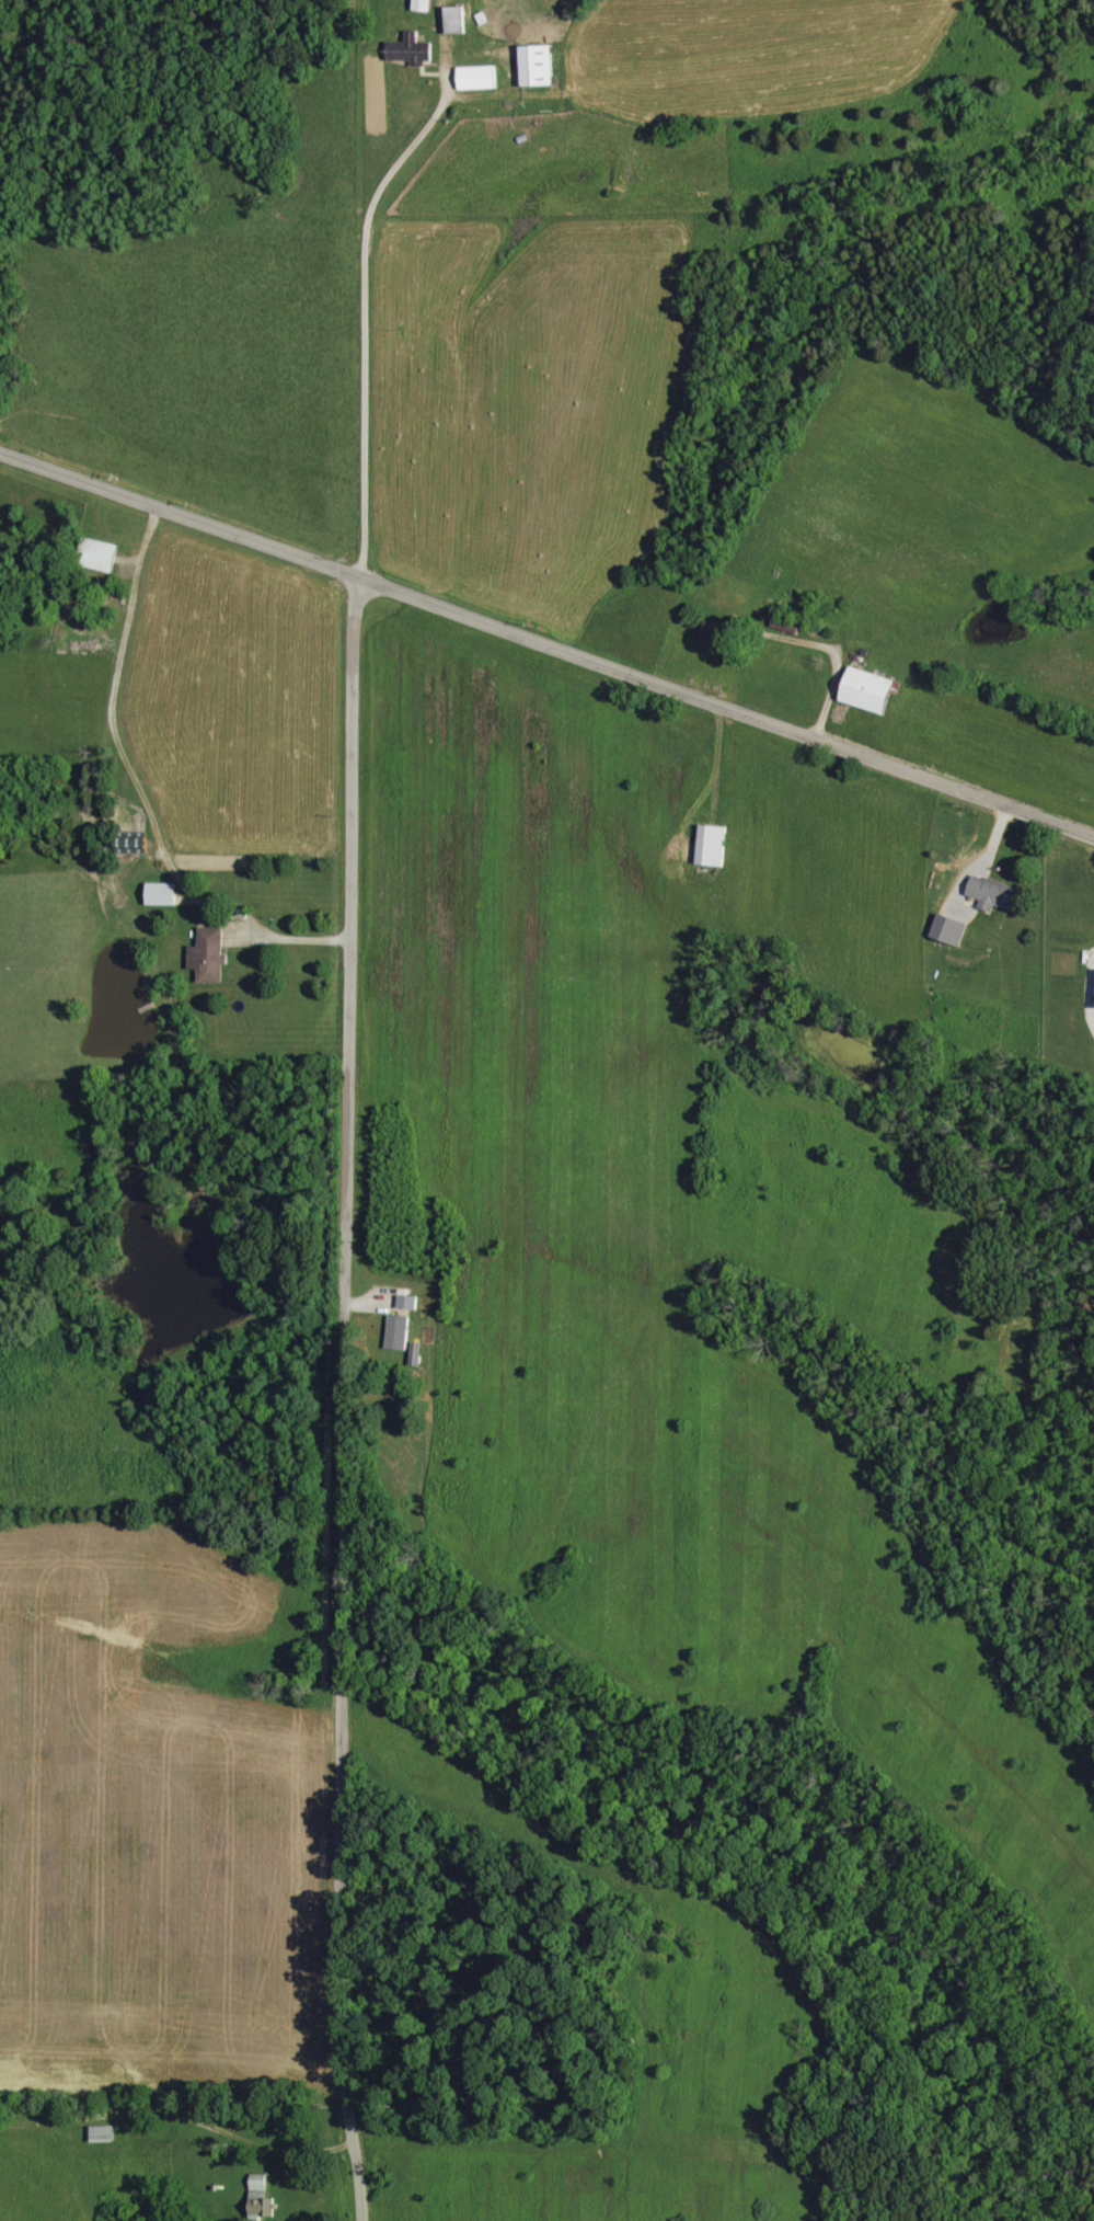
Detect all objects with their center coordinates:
building: (421, 5)
building: (410, 49)
building: (536, 65)
building: (476, 77)
building: (96, 554)
building: (712, 634)
road: (545, 639)
building: (866, 690)
building: (711, 845)
building: (992, 893)
building: (160, 894)
road: (281, 929)
building: (948, 929)
building: (208, 955)
building: (406, 1303)
building: (396, 1333)
road: (339, 1396)
building: (260, 2197)

